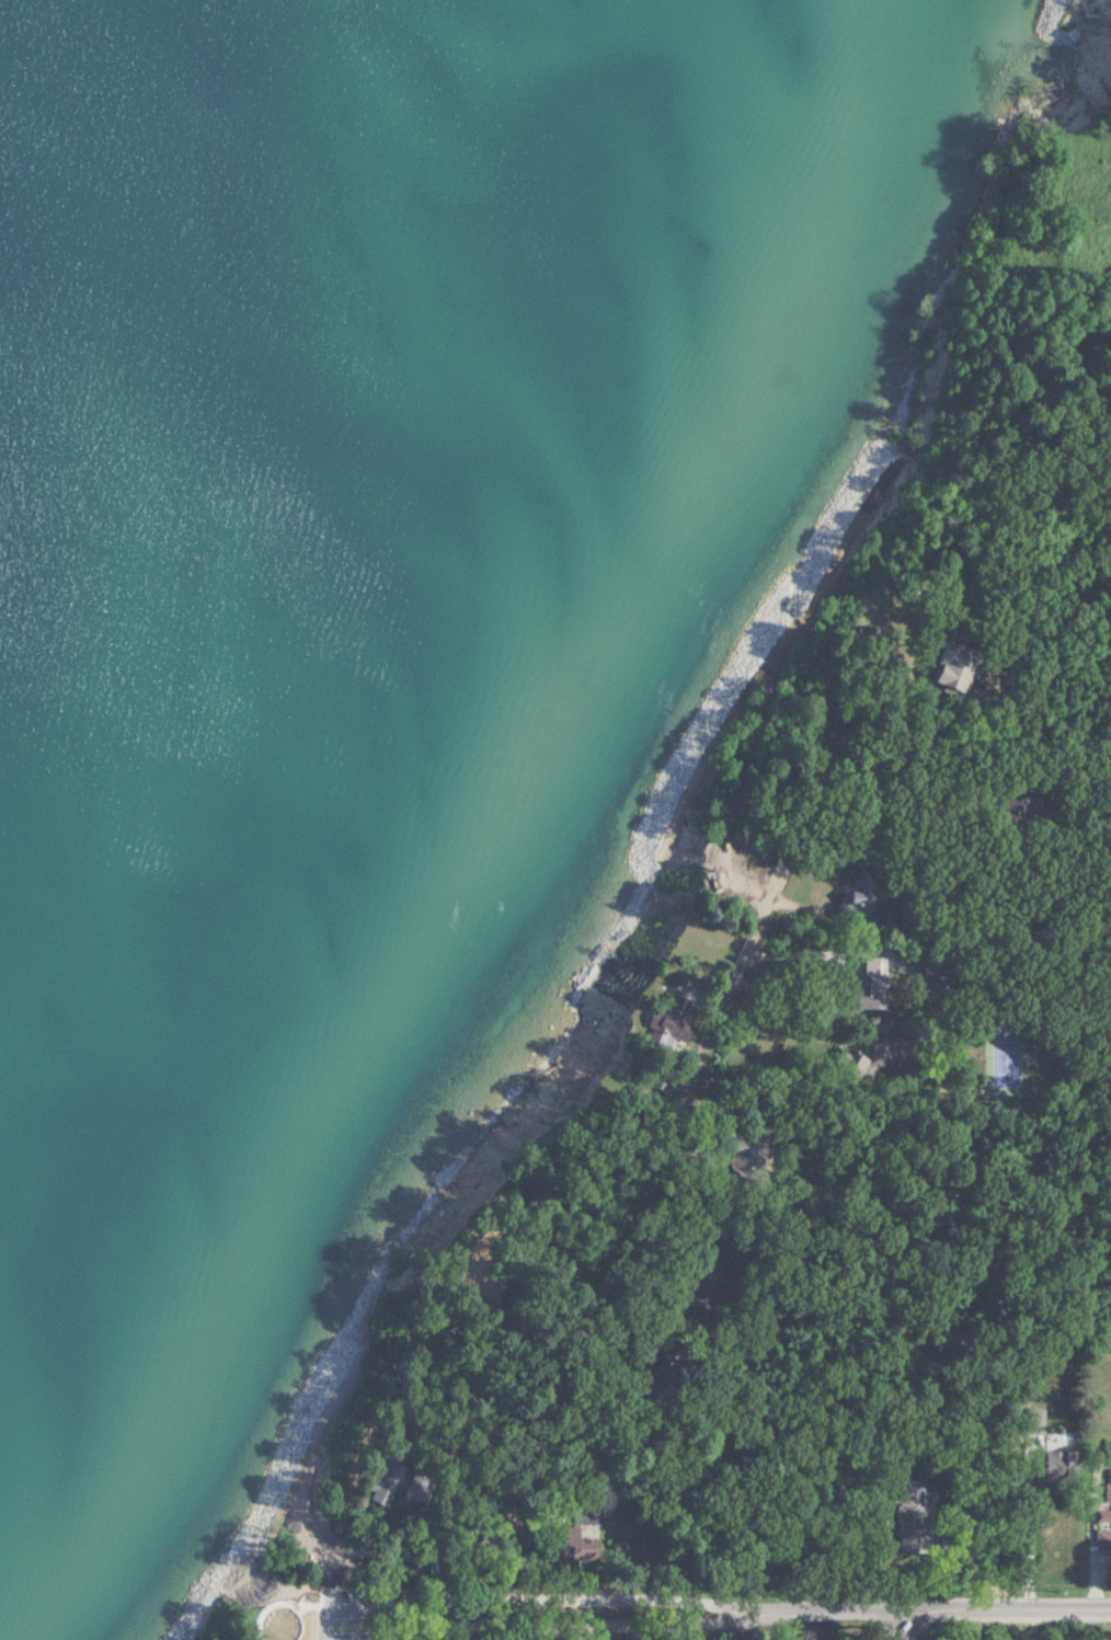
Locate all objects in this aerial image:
building: (949, 674)
road: (988, 731)
road: (927, 753)
road: (799, 952)
building: (866, 968)
building: (859, 1000)
building: (662, 1029)
building: (850, 1065)
road: (643, 1186)
building: (1028, 1421)
building: (1102, 1501)
road: (1023, 1535)
building: (1098, 1538)
building: (568, 1548)
road: (1087, 1549)
road: (1005, 1609)
road: (526, 1618)
road: (898, 1625)
road: (320, 1630)
road: (371, 1630)

